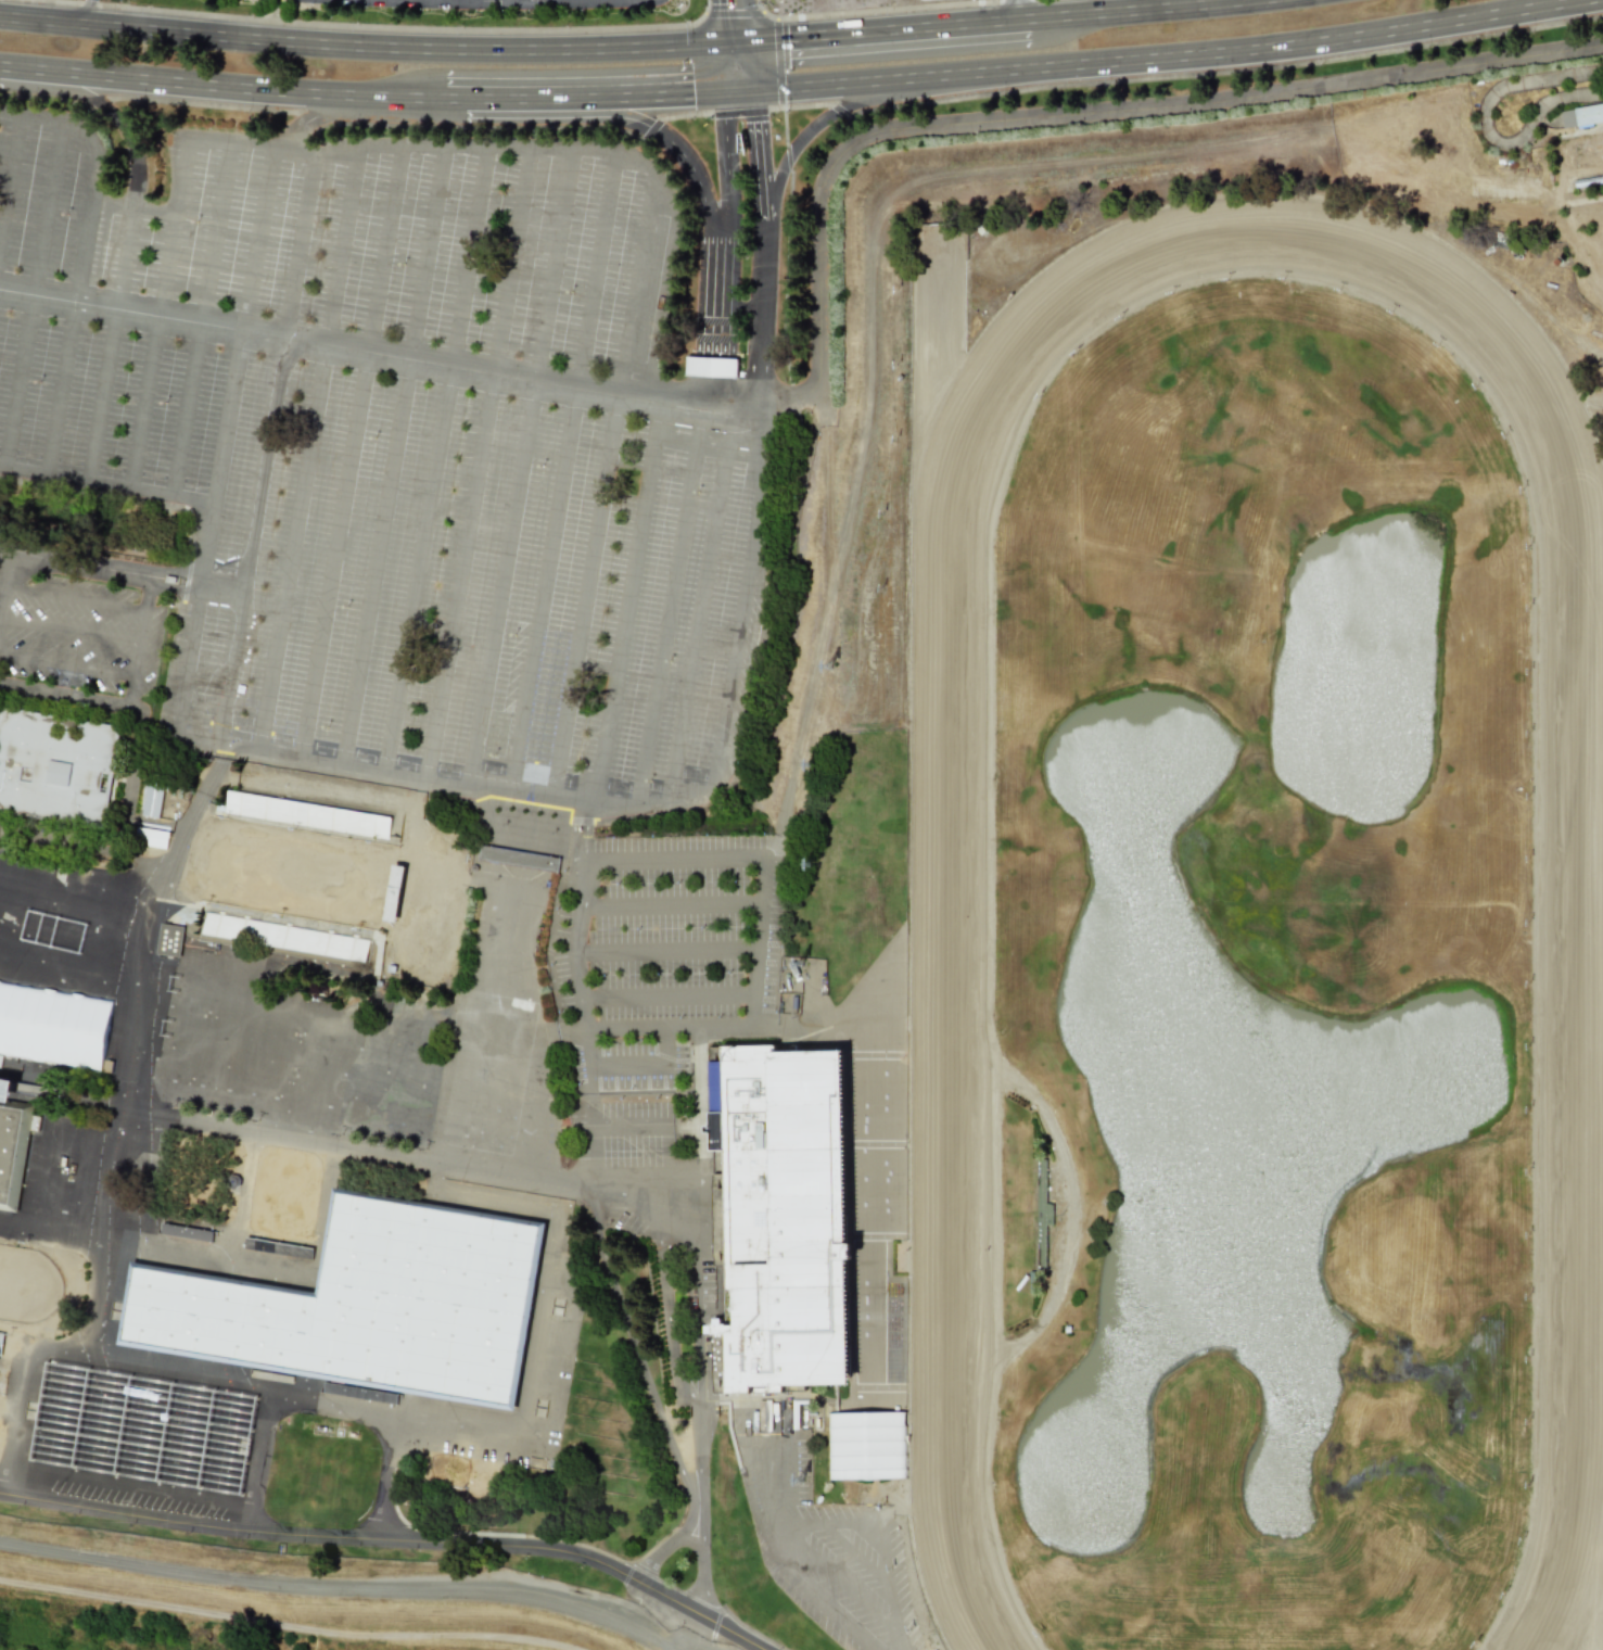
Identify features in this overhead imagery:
road: (733, 10)
road: (882, 10)
road: (1018, 11)
road: (1152, 11)
road: (87, 12)
road: (734, 22)
road: (376, 27)
road: (880, 31)
traffic signals: (735, 43)
road: (366, 48)
road: (1163, 59)
road: (778, 63)
road: (736, 66)
road: (222, 87)
traffic signals: (737, 89)
road: (737, 96)
road: (591, 97)
road: (93, 103)
road: (837, 106)
road: (730, 109)
road: (611, 115)
building: (1581, 115)
road: (320, 118)
road: (1067, 118)
road: (53, 125)
road: (758, 147)
road: (463, 156)
road: (726, 173)
road: (10, 179)
road: (135, 207)
road: (762, 210)
road: (86, 224)
road: (298, 246)
road: (340, 251)
road: (382, 252)
road: (424, 259)
road: (469, 261)
road: (511, 266)
road: (550, 270)
road: (168, 275)
road: (594, 275)
road: (635, 282)
road: (30, 295)
road: (720, 303)
road: (762, 312)
road: (199, 322)
road: (242, 328)
road: (111, 334)
road: (378, 353)
building: (711, 367)
road: (59, 388)
road: (712, 393)
parking lot: (395, 442)
road: (149, 494)
road: (292, 549)
road: (5, 555)
road: (335, 557)
road: (377, 563)
road: (418, 570)
road: (102, 573)
road: (460, 576)
road: (499, 584)
road: (543, 591)
road: (583, 597)
road: (626, 605)
road: (703, 607)
road: (664, 609)
road: (71, 630)
road: (825, 630)
road: (233, 668)
road: (127, 706)
fountain: (1142, 759)
building: (55, 766)
road: (565, 802)
building: (259, 808)
road: (585, 830)
theme park: (823, 851)
road: (763, 856)
road: (673, 907)
building: (171, 939)
track: (1250, 945)
road: (670, 952)
road: (577, 969)
road: (669, 1000)
track: (952, 1011)
road: (669, 1032)
road: (640, 1065)
building: (7, 1087)
road: (602, 1107)
road: (646, 1128)
building: (12, 1147)
road: (393, 1155)
road: (593, 1157)
road: (112, 1182)
road: (683, 1197)
road: (597, 1216)
road: (700, 1219)
building: (185, 1232)
road: (50, 1244)
park: (26, 1283)
building: (365, 1300)
building: (1, 1340)
road: (180, 1365)
road: (648, 1383)
road: (269, 1401)
road: (700, 1402)
road: (410, 1424)
building: (142, 1429)
building: (866, 1446)
fountain: (1078, 1472)
road: (886, 1538)
road: (392, 1539)
road: (665, 1549)
road: (860, 1559)
road: (785, 1561)
road: (341, 1588)
road: (842, 1588)
road: (288, 1623)
road: (501, 1641)

